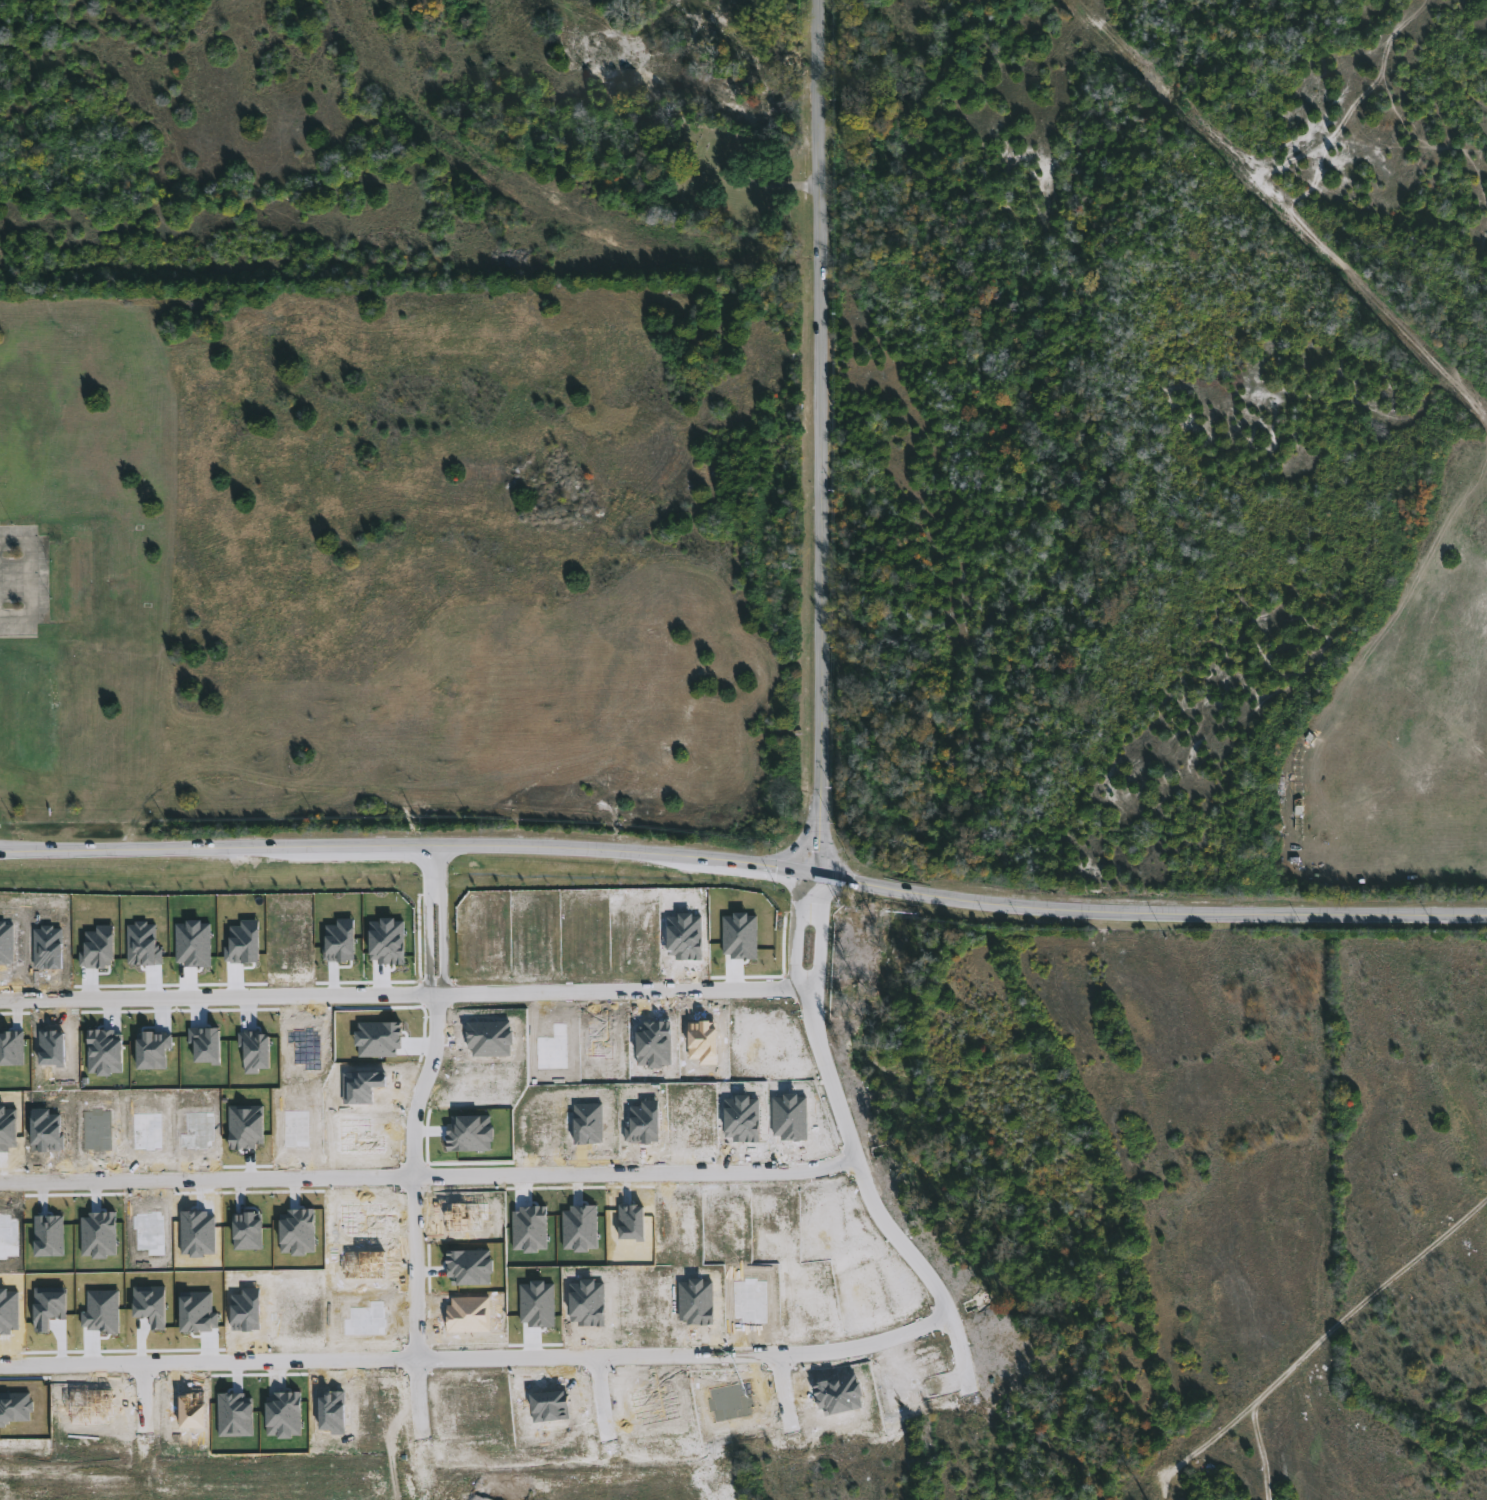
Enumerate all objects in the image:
road: (823, 438)
road: (30, 581)
road: (744, 864)
road: (435, 921)
road: (810, 934)
building: (739, 936)
building: (340, 940)
building: (387, 941)
building: (193, 943)
building: (244, 943)
building: (143, 944)
building: (98, 948)
road: (218, 997)
building: (378, 1039)
building: (206, 1044)
building: (153, 1050)
building: (255, 1051)
building: (105, 1052)
building: (246, 1126)
road: (428, 1175)
road: (414, 1176)
building: (49, 1235)
road: (893, 1235)
building: (537, 1304)
building: (151, 1305)
building: (48, 1307)
building: (101, 1311)
building: (198, 1313)
road: (208, 1362)
building: (15, 1407)

